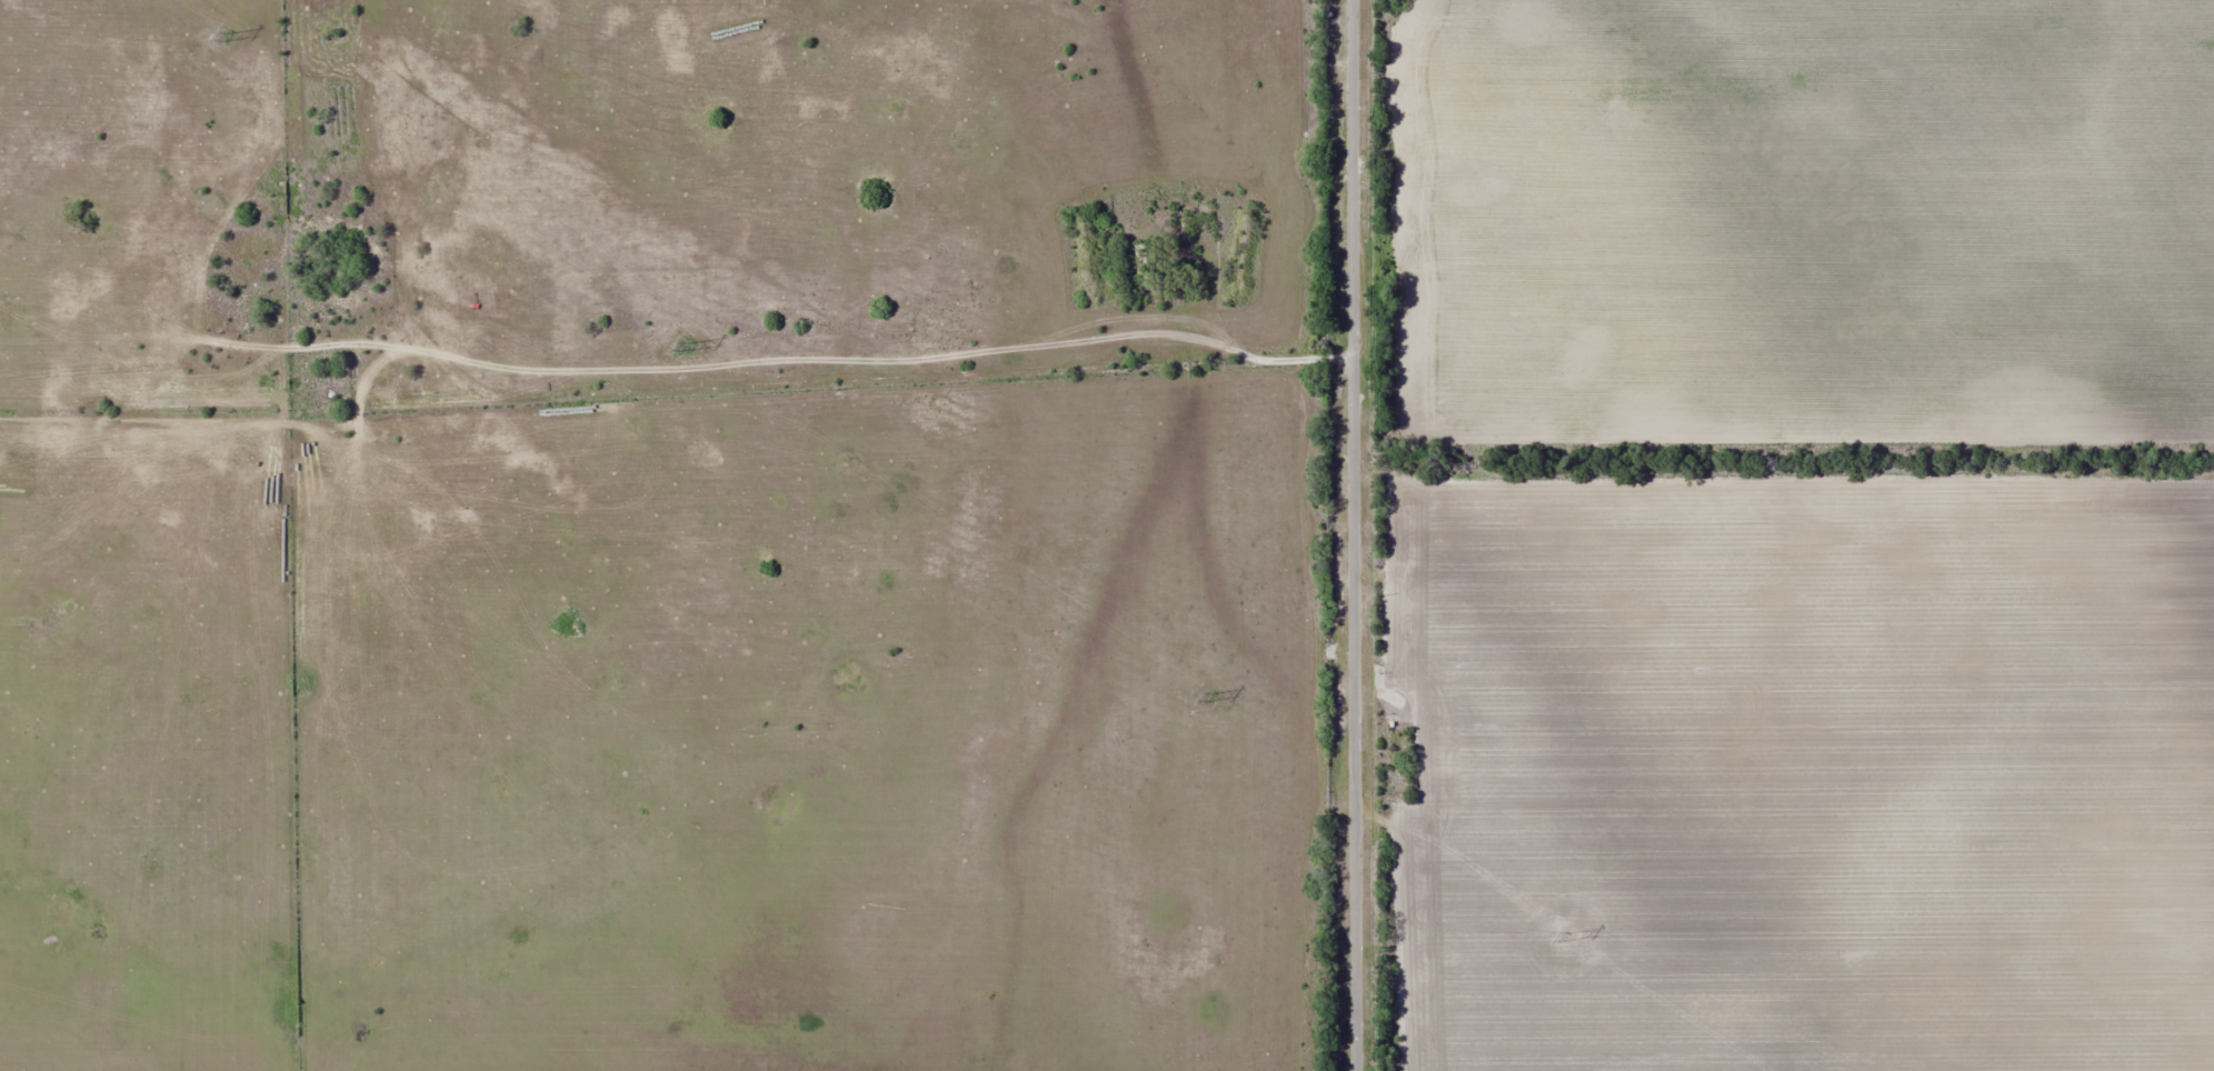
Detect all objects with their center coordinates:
power tower: (227, 37)
power tower: (688, 346)
road: (1350, 535)
power tower: (1208, 698)
power tower: (1565, 937)

